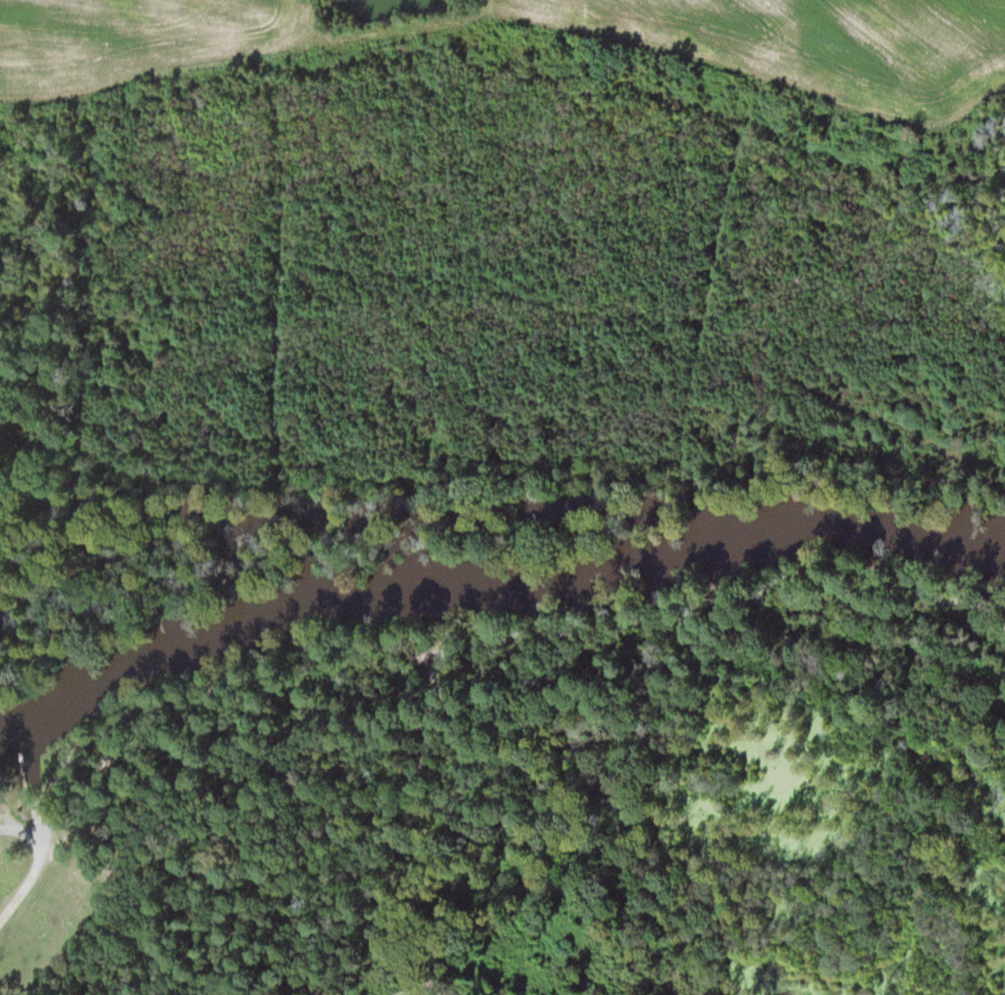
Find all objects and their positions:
road: (31, 879)
wastewater plant: (423, 987)

